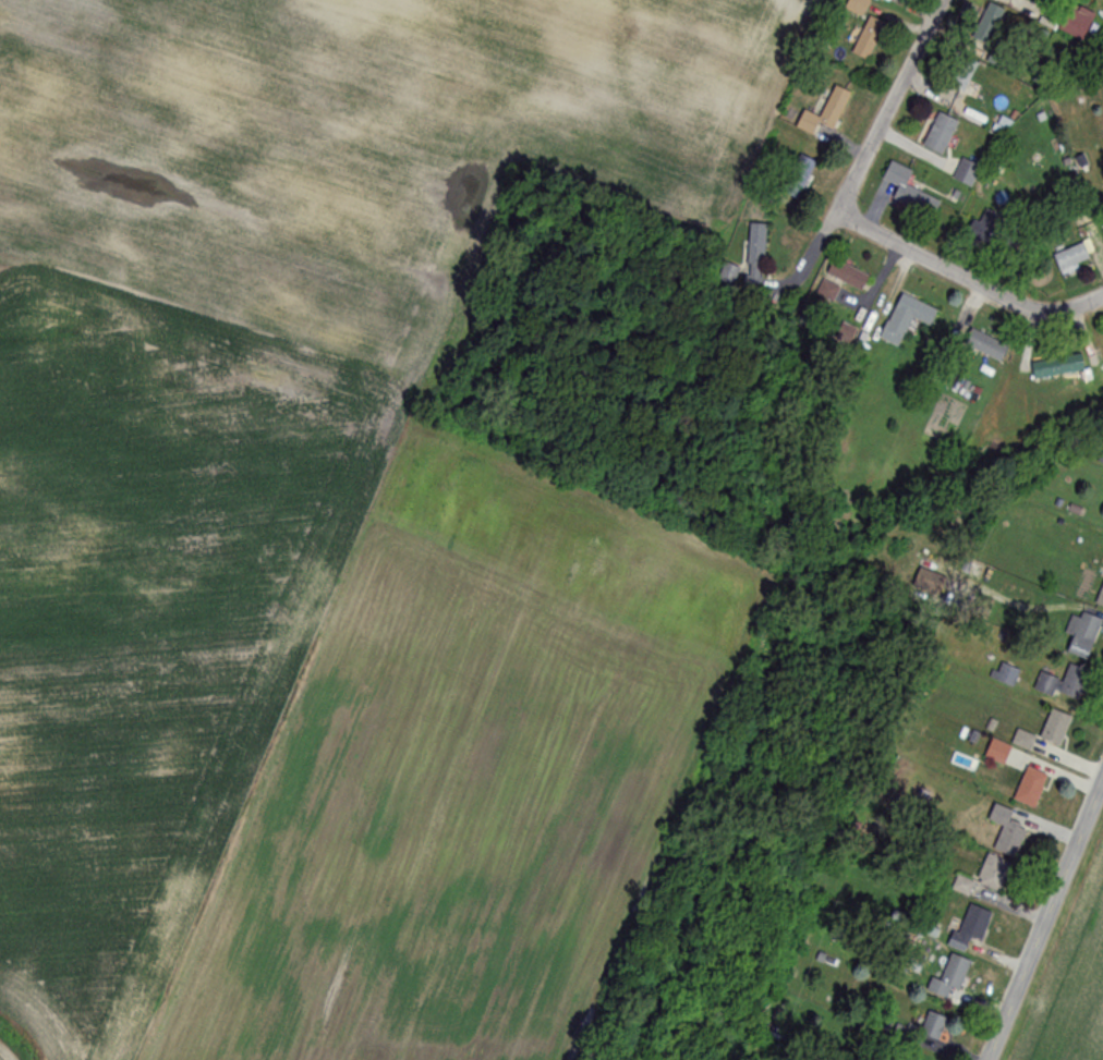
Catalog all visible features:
building: (860, 5)
building: (1075, 22)
building: (986, 33)
building: (868, 37)
building: (959, 76)
road: (890, 99)
building: (826, 111)
building: (940, 132)
building: (963, 171)
building: (798, 175)
building: (910, 193)
building: (986, 226)
road: (811, 249)
building: (755, 256)
building: (1071, 258)
building: (846, 275)
road: (966, 277)
building: (906, 317)
building: (985, 345)
building: (1057, 366)
building: (929, 583)
building: (1100, 598)
building: (1082, 634)
building: (1064, 683)
building: (1055, 728)
building: (1029, 788)
building: (1001, 849)
road: (1044, 915)
building: (971, 926)
building: (949, 976)

